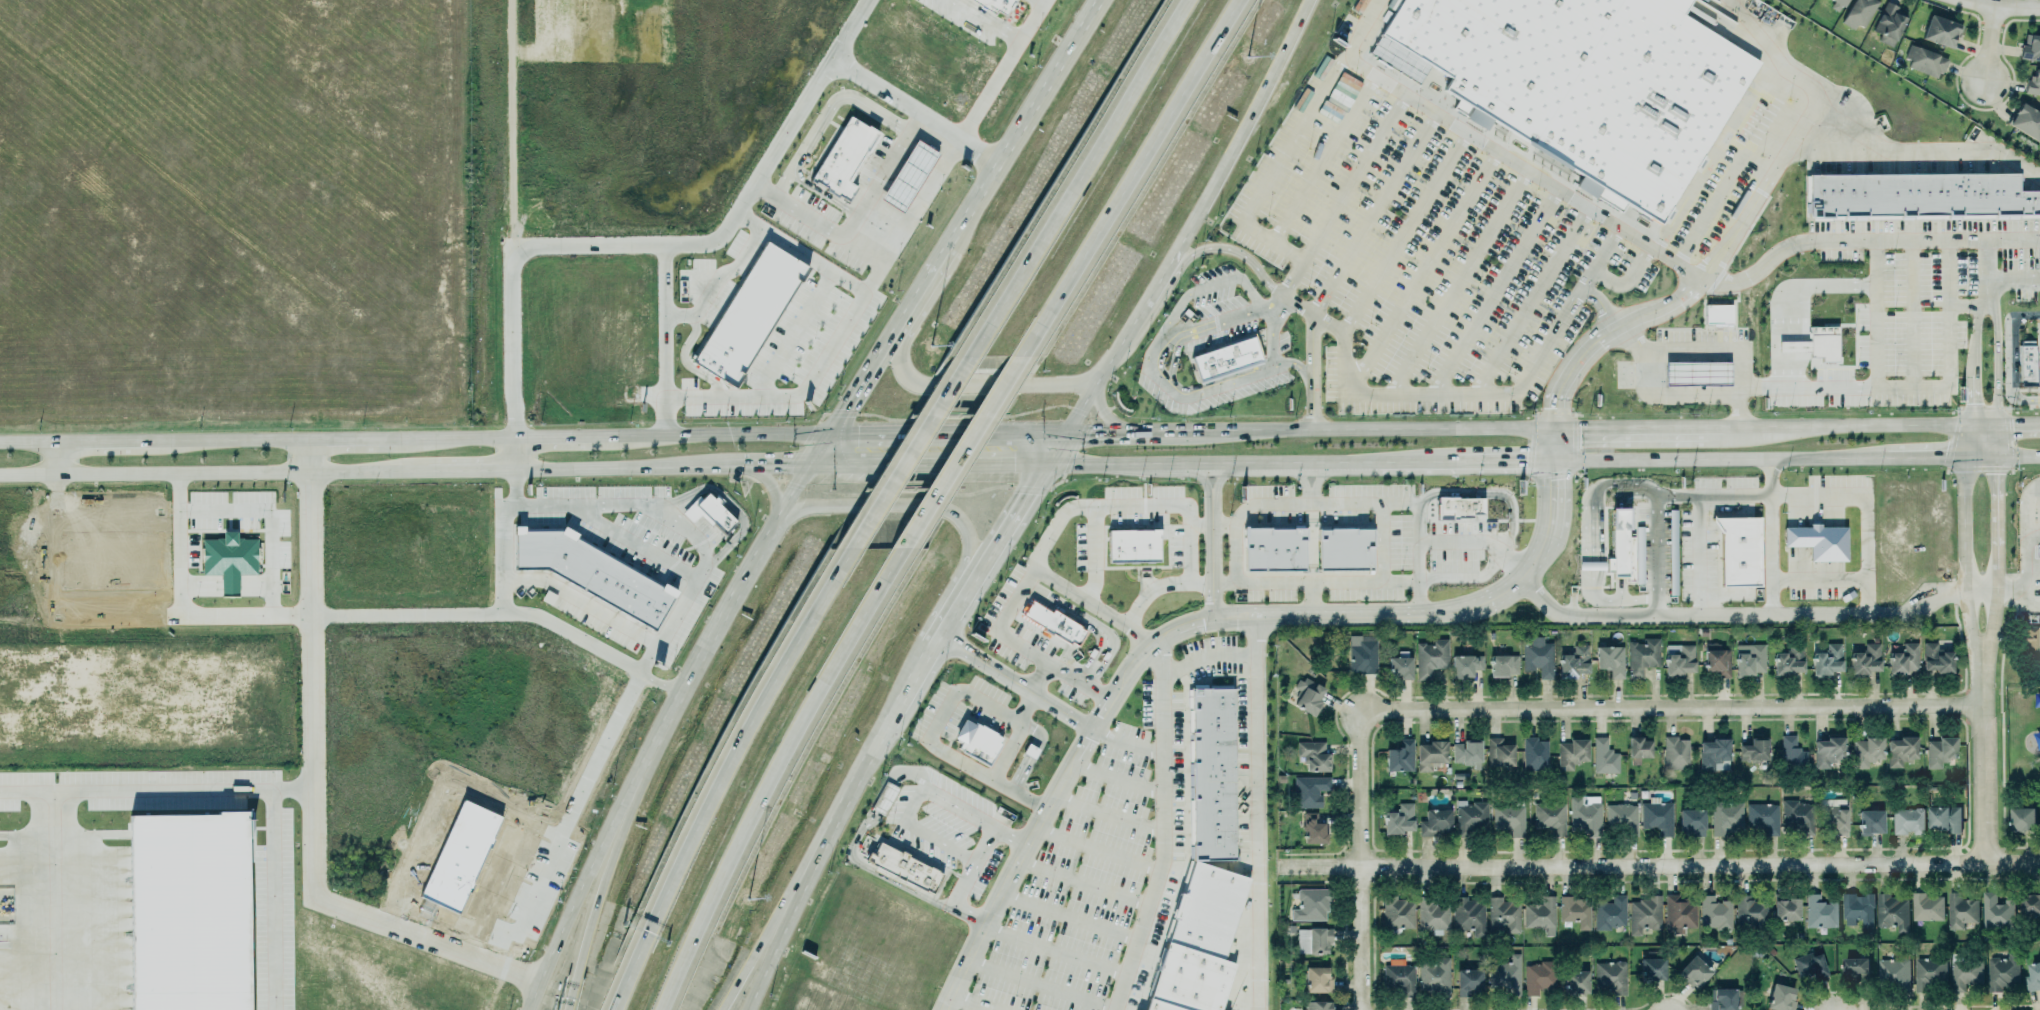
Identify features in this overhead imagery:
road: (1041, 0)
road: (1042, 0)
building: (1837, 3)
building: (994, 5)
road: (1996, 7)
building: (1856, 15)
road: (984, 21)
building: (1887, 27)
road: (1361, 29)
building: (1939, 34)
road: (1984, 45)
building: (2027, 50)
building: (1920, 63)
road: (1001, 70)
building: (2029, 84)
road: (1389, 85)
building: (1586, 85)
road: (913, 110)
road: (824, 114)
road: (1250, 116)
road: (1021, 122)
building: (2024, 125)
road: (1788, 127)
building: (841, 155)
road: (1912, 155)
road: (1318, 157)
road: (1731, 169)
building: (907, 173)
gas station: (907, 173)
road: (1126, 177)
road: (1073, 178)
road: (1353, 178)
building: (1917, 199)
road: (1368, 211)
road: (851, 217)
parking lot: (1463, 227)
road: (1403, 233)
road: (1862, 241)
road: (663, 247)
road: (1177, 247)
road: (1231, 249)
road: (860, 250)
road: (1424, 267)
road: (1945, 273)
road: (872, 278)
road: (2010, 280)
road: (1457, 283)
road: (1206, 287)
road: (722, 288)
road: (919, 289)
road: (1774, 289)
road: (1981, 291)
road: (1494, 292)
road: (1148, 295)
road: (1532, 301)
road: (1596, 303)
parking lot: (1908, 304)
building: (745, 309)
parking lot: (1216, 309)
road: (1869, 313)
road: (1640, 314)
road: (1311, 315)
parking lot: (2036, 315)
road: (1907, 316)
road: (1266, 317)
building: (1715, 317)
road: (793, 334)
road: (1271, 335)
road: (1780, 336)
road: (1788, 336)
road: (1795, 336)
road: (1968, 337)
road: (660, 341)
parking lot: (1276, 344)
building: (1821, 346)
road: (1113, 352)
parking lot: (1676, 355)
road: (2002, 357)
building: (1226, 358)
road: (1941, 364)
road: (1989, 364)
road: (1172, 365)
building: (2023, 368)
parking lot: (2036, 368)
road: (1311, 372)
road: (1157, 377)
building: (1695, 377)
gas station: (1695, 377)
road: (859, 383)
road: (1820, 385)
road: (1558, 386)
road: (973, 387)
road: (1178, 387)
parking lot: (1207, 388)
road: (1498, 391)
road: (1721, 396)
road: (792, 397)
road: (1968, 401)
traffic signals: (1968, 404)
road: (1077, 407)
traffic signals: (1554, 408)
traffic signals: (842, 410)
road: (1730, 412)
road: (1100, 420)
road: (2001, 425)
traffic signals: (2004, 425)
road: (1847, 426)
road: (1642, 427)
traffic signals: (1572, 428)
road: (1347, 429)
road: (714, 434)
traffic signals: (851, 434)
road: (918, 434)
road: (1035, 434)
traffic signals: (1082, 434)
road: (1100, 434)
road: (557, 436)
road: (452, 437)
road: (346, 438)
road: (222, 440)
road: (99, 441)
road: (1960, 441)
road: (1989, 441)
road: (26, 442)
road: (1553, 444)
road: (818, 448)
road: (1051, 448)
road: (511, 451)
road: (906, 451)
road: (958, 451)
road: (2014, 456)
road: (1936, 457)
traffic signals: (1937, 457)
road: (53, 458)
road: (1718, 459)
road: (1486, 460)
traffic signals: (1517, 460)
road: (946, 462)
traffic signals: (1006, 462)
road: (1086, 462)
road: (1276, 462)
road: (772, 463)
traffic signals: (778, 463)
road: (830, 463)
road: (623, 464)
road: (470, 467)
road: (214, 472)
traffic signals: (1989, 474)
road: (1199, 478)
road: (1218, 478)
road: (1317, 478)
road: (1298, 479)
traffic signals: (1552, 480)
road: (768, 484)
road: (792, 489)
road: (1640, 490)
parking lot: (1832, 493)
traffic signals: (1024, 494)
road: (1485, 495)
road: (1832, 495)
road: (1552, 497)
road: (1082, 508)
building: (1457, 511)
building: (709, 512)
road: (951, 512)
road: (1989, 512)
road: (2024, 512)
road: (266, 520)
road: (1377, 523)
parking lot: (1128, 524)
parking lot: (1702, 531)
road: (1765, 536)
road: (1181, 539)
road: (1412, 539)
road: (1456, 541)
parking lot: (1439, 542)
road: (630, 543)
building: (1618, 544)
building: (1815, 545)
road: (989, 550)
building: (1132, 550)
building: (1273, 553)
building: (1344, 554)
building: (1673, 554)
building: (1738, 554)
building: (229, 555)
road: (1231, 555)
road: (1696, 556)
road: (1308, 558)
road: (497, 559)
road: (1209, 559)
road: (1589, 569)
building: (589, 570)
parking lot: (2025, 572)
road: (2021, 575)
road: (1456, 578)
road: (1813, 580)
road: (1959, 581)
road: (1195, 583)
parking lot: (1812, 583)
road: (2030, 599)
road: (577, 600)
road: (1607, 600)
road: (726, 606)
road: (174, 611)
road: (1750, 614)
road: (391, 615)
road: (1072, 622)
road: (1087, 624)
building: (1052, 626)
road: (1982, 636)
parking lot: (1025, 639)
road: (1154, 642)
building: (2030, 647)
road: (925, 656)
building: (1362, 656)
building: (1430, 656)
building: (1538, 656)
building: (1642, 656)
building: (1827, 659)
building: (1935, 659)
building: (1610, 660)
building: (1716, 660)
building: (1748, 660)
building: (1865, 660)
building: (1903, 660)
building: (1574, 662)
building: (1788, 662)
building: (1464, 663)
building: (1502, 663)
road: (643, 664)
building: (1399, 668)
building: (2038, 679)
road: (1072, 682)
road: (657, 686)
road: (1024, 696)
building: (1308, 697)
road: (902, 698)
road: (1042, 702)
park: (2012, 704)
road: (1666, 709)
building: (224, 710)
parking lot: (957, 716)
building: (972, 743)
building: (1638, 746)
building: (1754, 749)
road: (1002, 750)
building: (1713, 750)
building: (1900, 751)
building: (1571, 752)
building: (1827, 752)
building: (1865, 752)
building: (1939, 752)
road: (646, 753)
building: (1429, 753)
building: (1466, 753)
building: (1498, 753)
building: (1533, 753)
building: (1791, 753)
road: (1024, 754)
building: (1312, 754)
building: (1676, 754)
building: (1399, 755)
building: (1603, 756)
road: (721, 772)
road: (862, 772)
road: (790, 777)
building: (1212, 778)
road: (1110, 779)
road: (1977, 784)
road: (133, 789)
road: (876, 790)
building: (1309, 791)
building: (884, 798)
road: (1252, 811)
building: (1585, 813)
building: (1834, 814)
road: (1101, 815)
building: (1549, 815)
building: (1797, 815)
building: (1657, 816)
building: (1762, 816)
building: (1398, 818)
building: (1470, 818)
building: (1622, 818)
building: (1726, 818)
building: (1508, 819)
building: (2022, 819)
road: (896, 820)
building: (1691, 820)
building: (1869, 820)
building: (1944, 820)
building: (1434, 821)
building: (1907, 821)
road: (1156, 827)
building: (1312, 829)
road: (1002, 836)
parking lot: (942, 837)
parking lot: (1120, 840)
building: (463, 849)
road: (1090, 850)
road: (1358, 861)
road: (849, 862)
road: (1659, 866)
building: (902, 871)
road: (277, 878)
road: (306, 883)
road: (1076, 885)
road: (52, 900)
building: (2029, 903)
building: (1310, 905)
building: (1857, 907)
building: (1926, 908)
building: (184, 909)
road: (573, 910)
road: (593, 910)
building: (1574, 910)
building: (1785, 910)
building: (1644, 911)
building: (1819, 911)
building: (1891, 911)
building: (1960, 911)
building: (1609, 912)
building: (1678, 912)
building: (1749, 912)
building: (1997, 912)
building: (1396, 913)
building: (1540, 914)
building: (1714, 914)
road: (777, 915)
road: (790, 915)
building: (1468, 916)
building: (1503, 916)
building: (1432, 917)
road: (1061, 918)
building: (1289, 928)
road: (1004, 939)
building: (1312, 939)
building: (1193, 945)
building: (1810, 965)
building: (1854, 966)
building: (1652, 969)
building: (1693, 972)
building: (2002, 972)
building: (1928, 973)
building: (1964, 973)
building: (1505, 974)
building: (1893, 974)
building: (1610, 976)
building: (2032, 976)
building: (1399, 977)
building: (1434, 977)
building: (1539, 977)
building: (1316, 979)
building: (1468, 982)
building: (1575, 982)
road: (1029, 986)
building: (1780, 997)
building: (1722, 998)
road: (958, 1005)
building: (1315, 1005)

